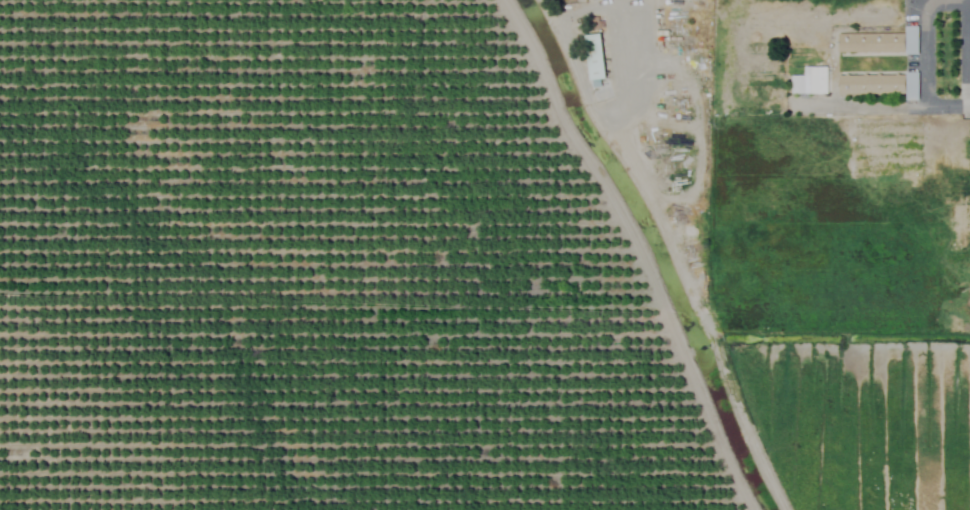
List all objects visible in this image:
building: (876, 41)
road: (968, 43)
road: (631, 51)
road: (923, 52)
building: (591, 59)
building: (807, 80)
building: (876, 83)
road: (868, 107)
crop: (414, 288)

